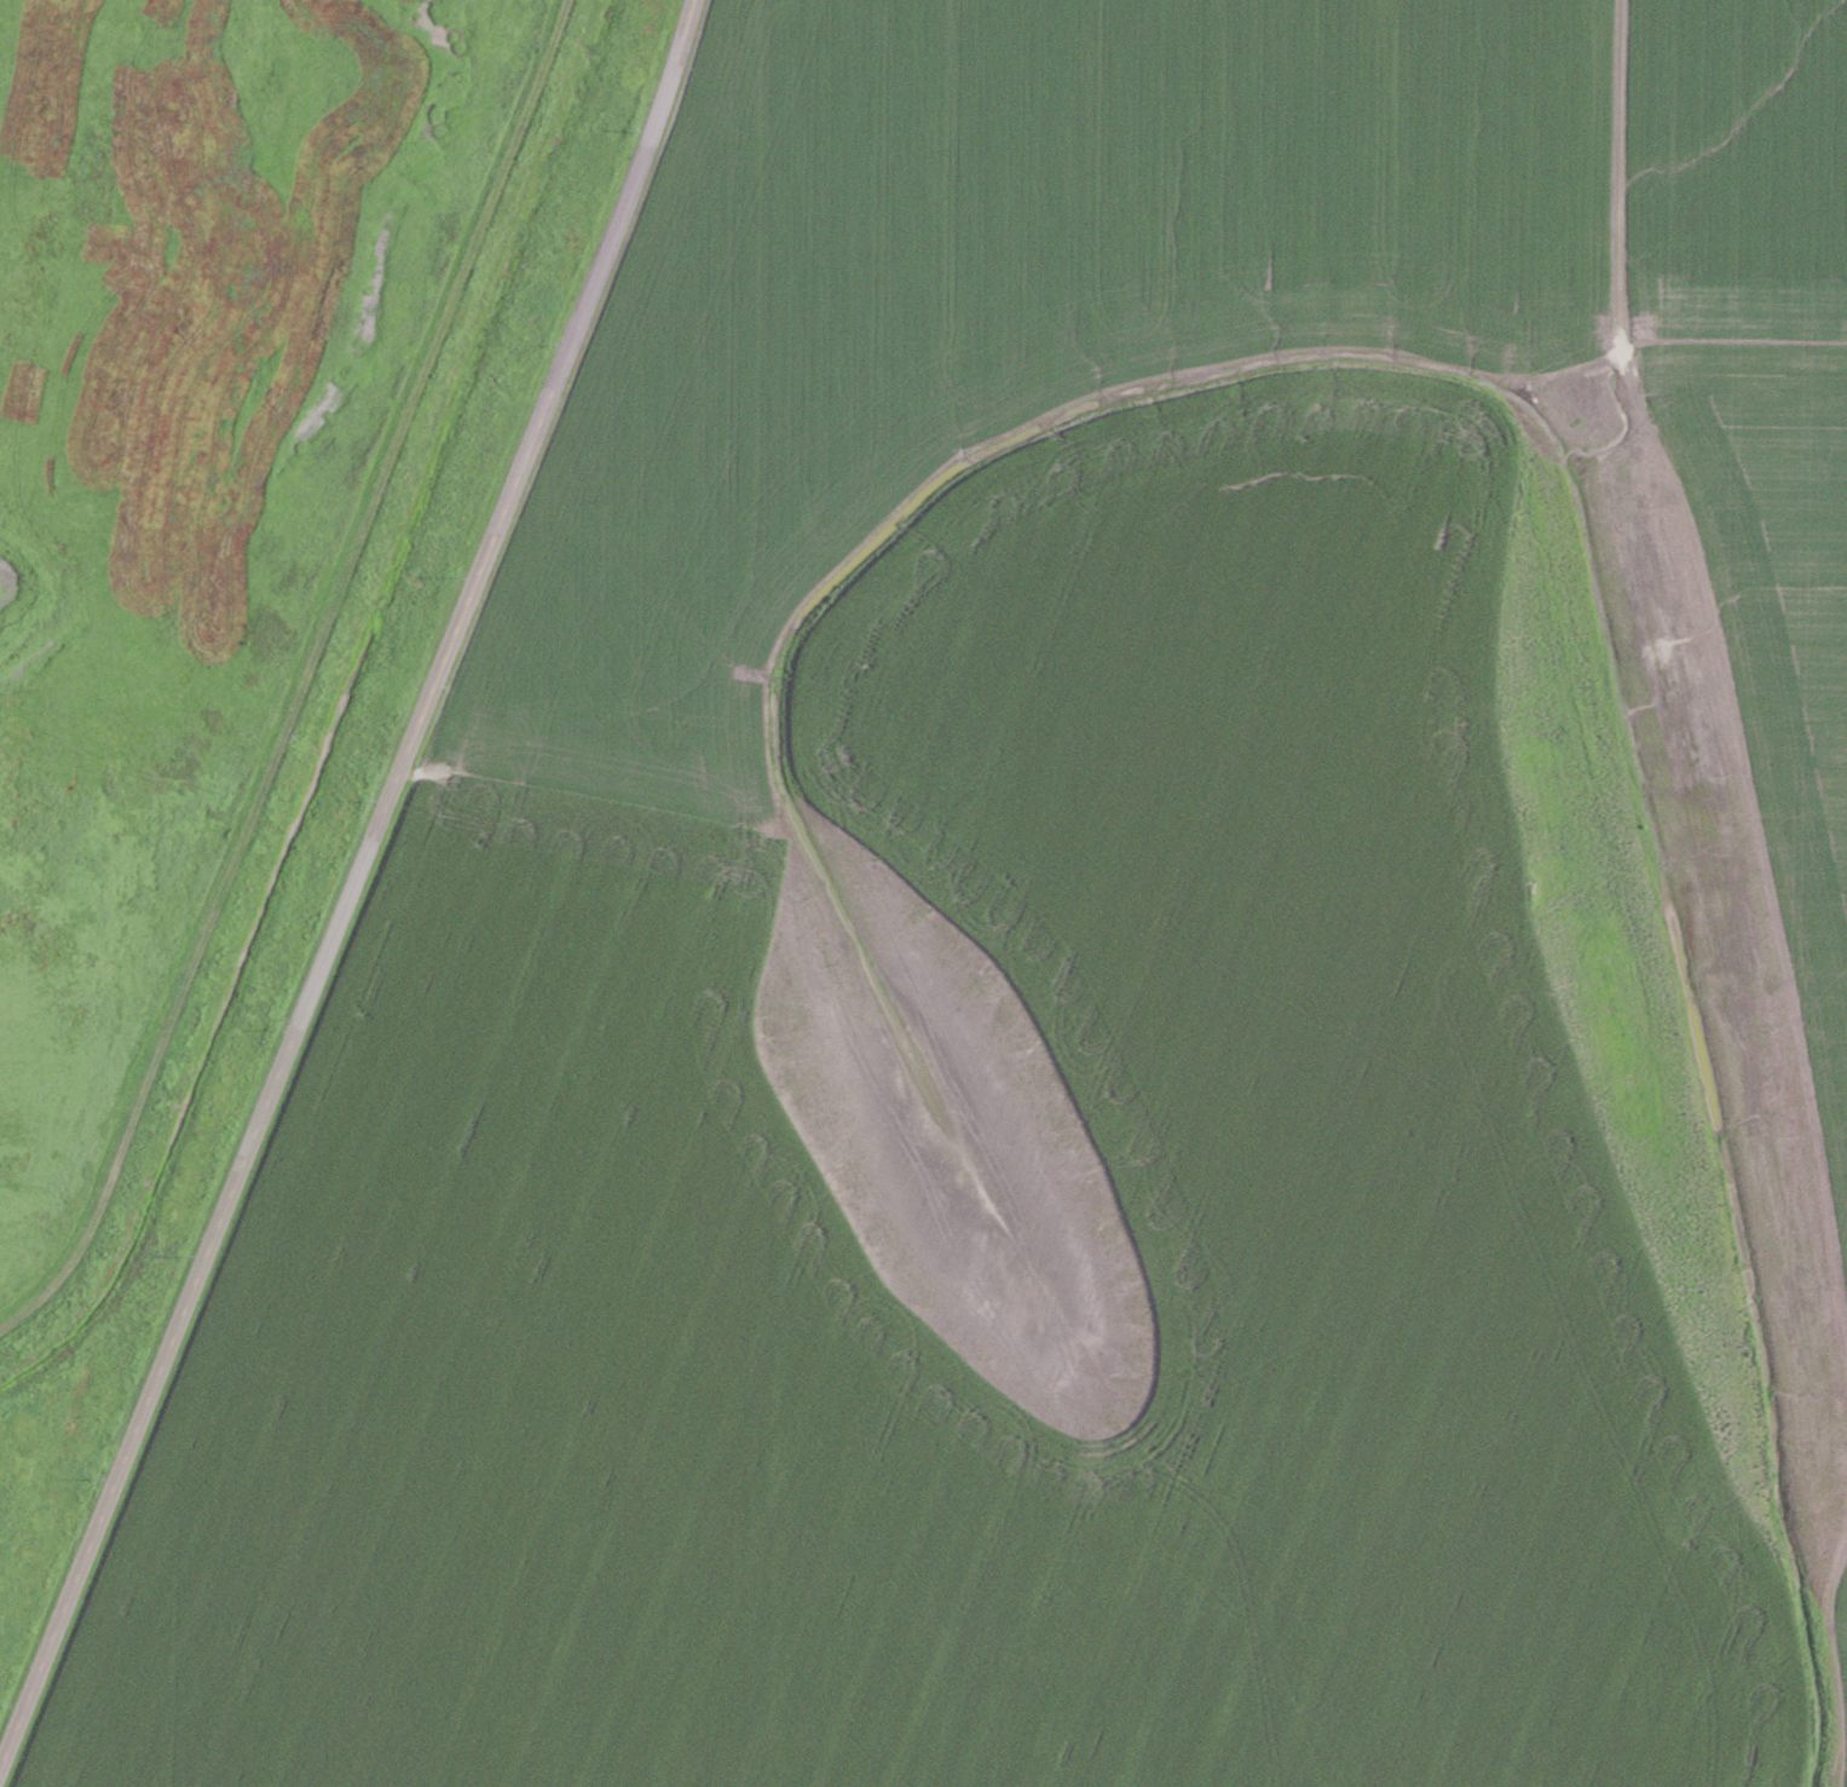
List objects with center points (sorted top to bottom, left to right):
road: (350, 877)

